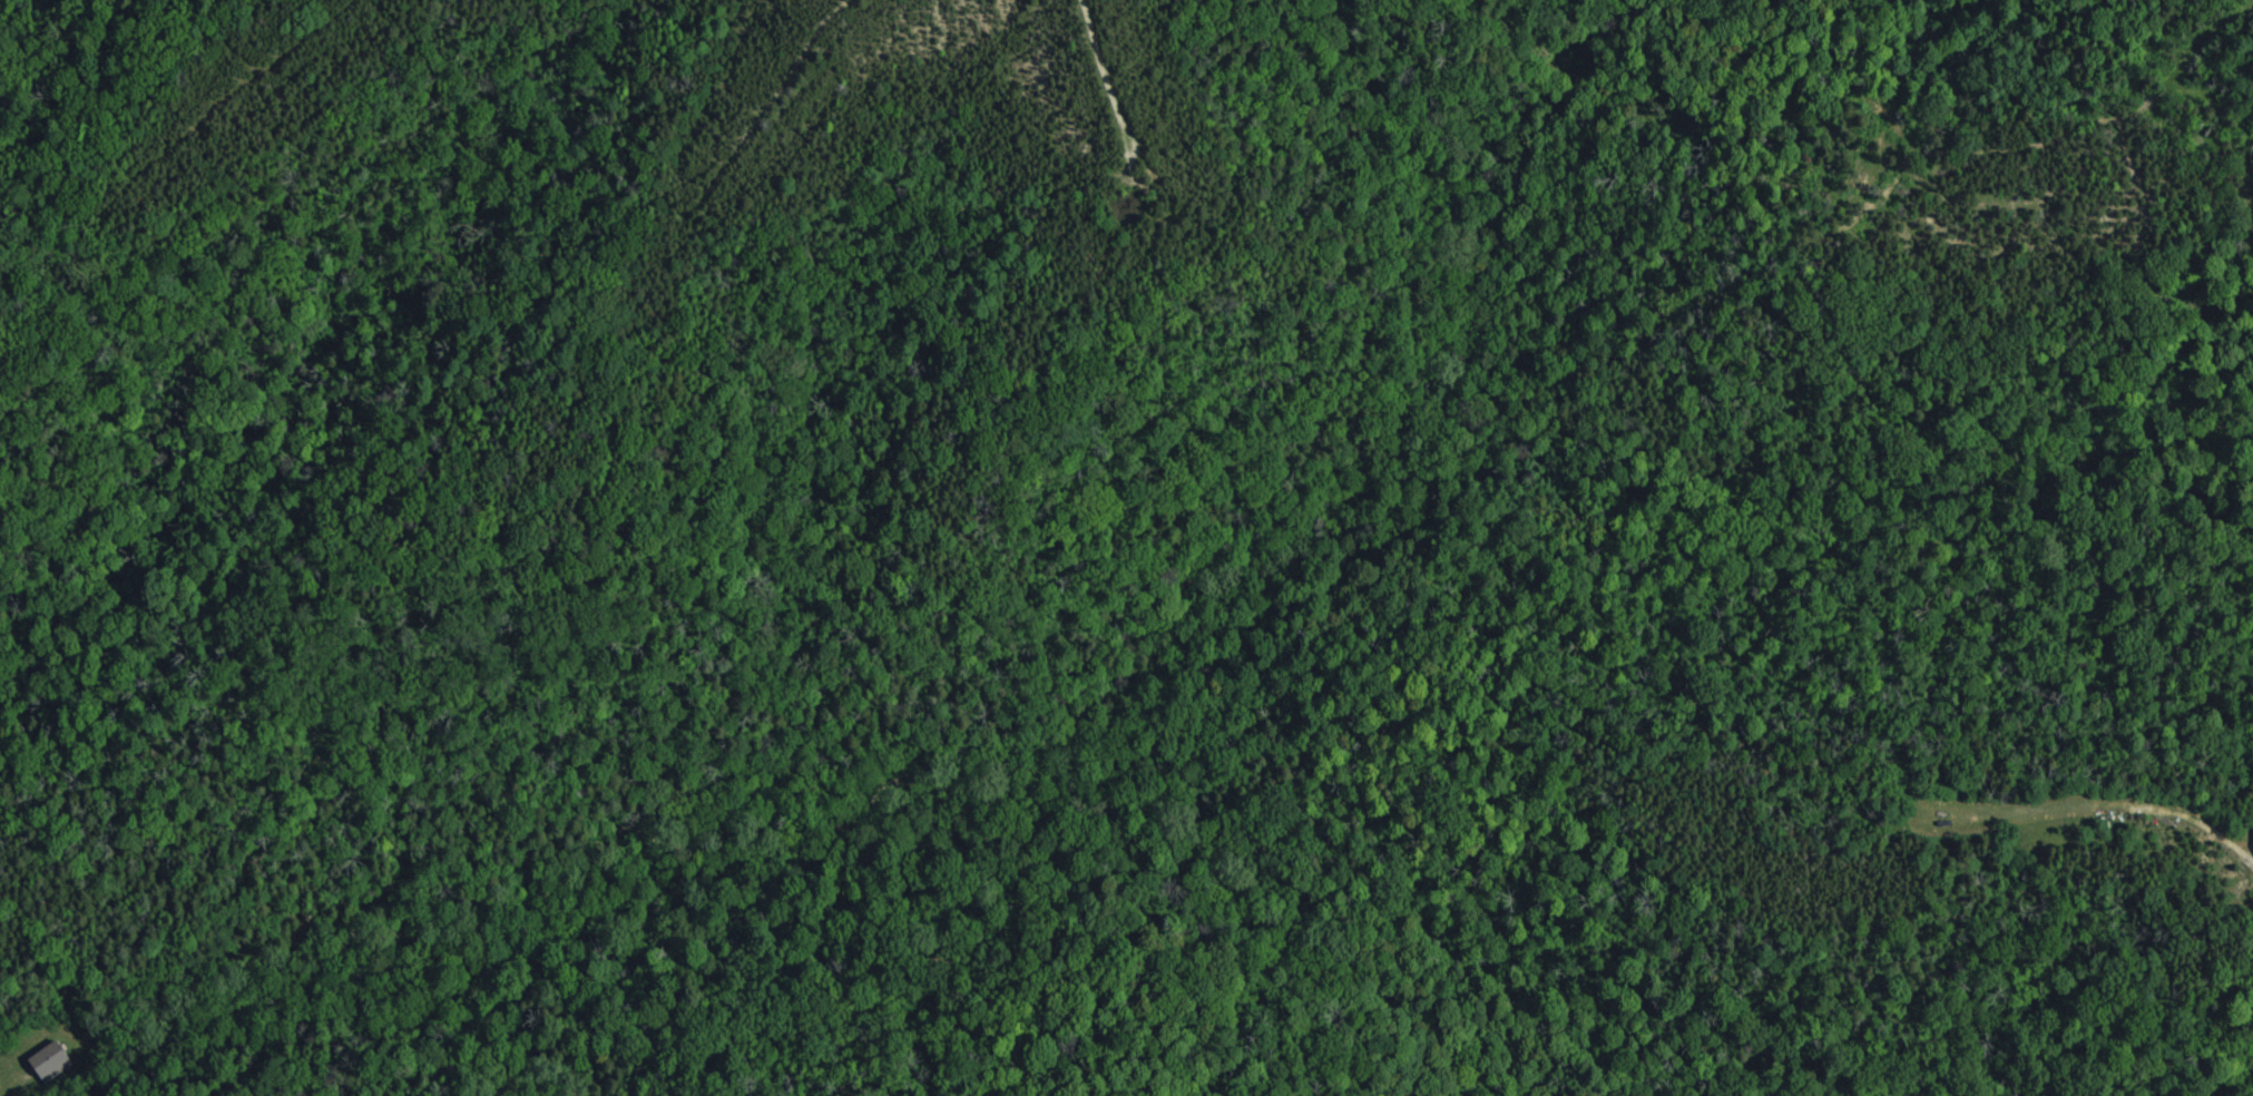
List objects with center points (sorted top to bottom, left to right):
building: (47, 1059)

